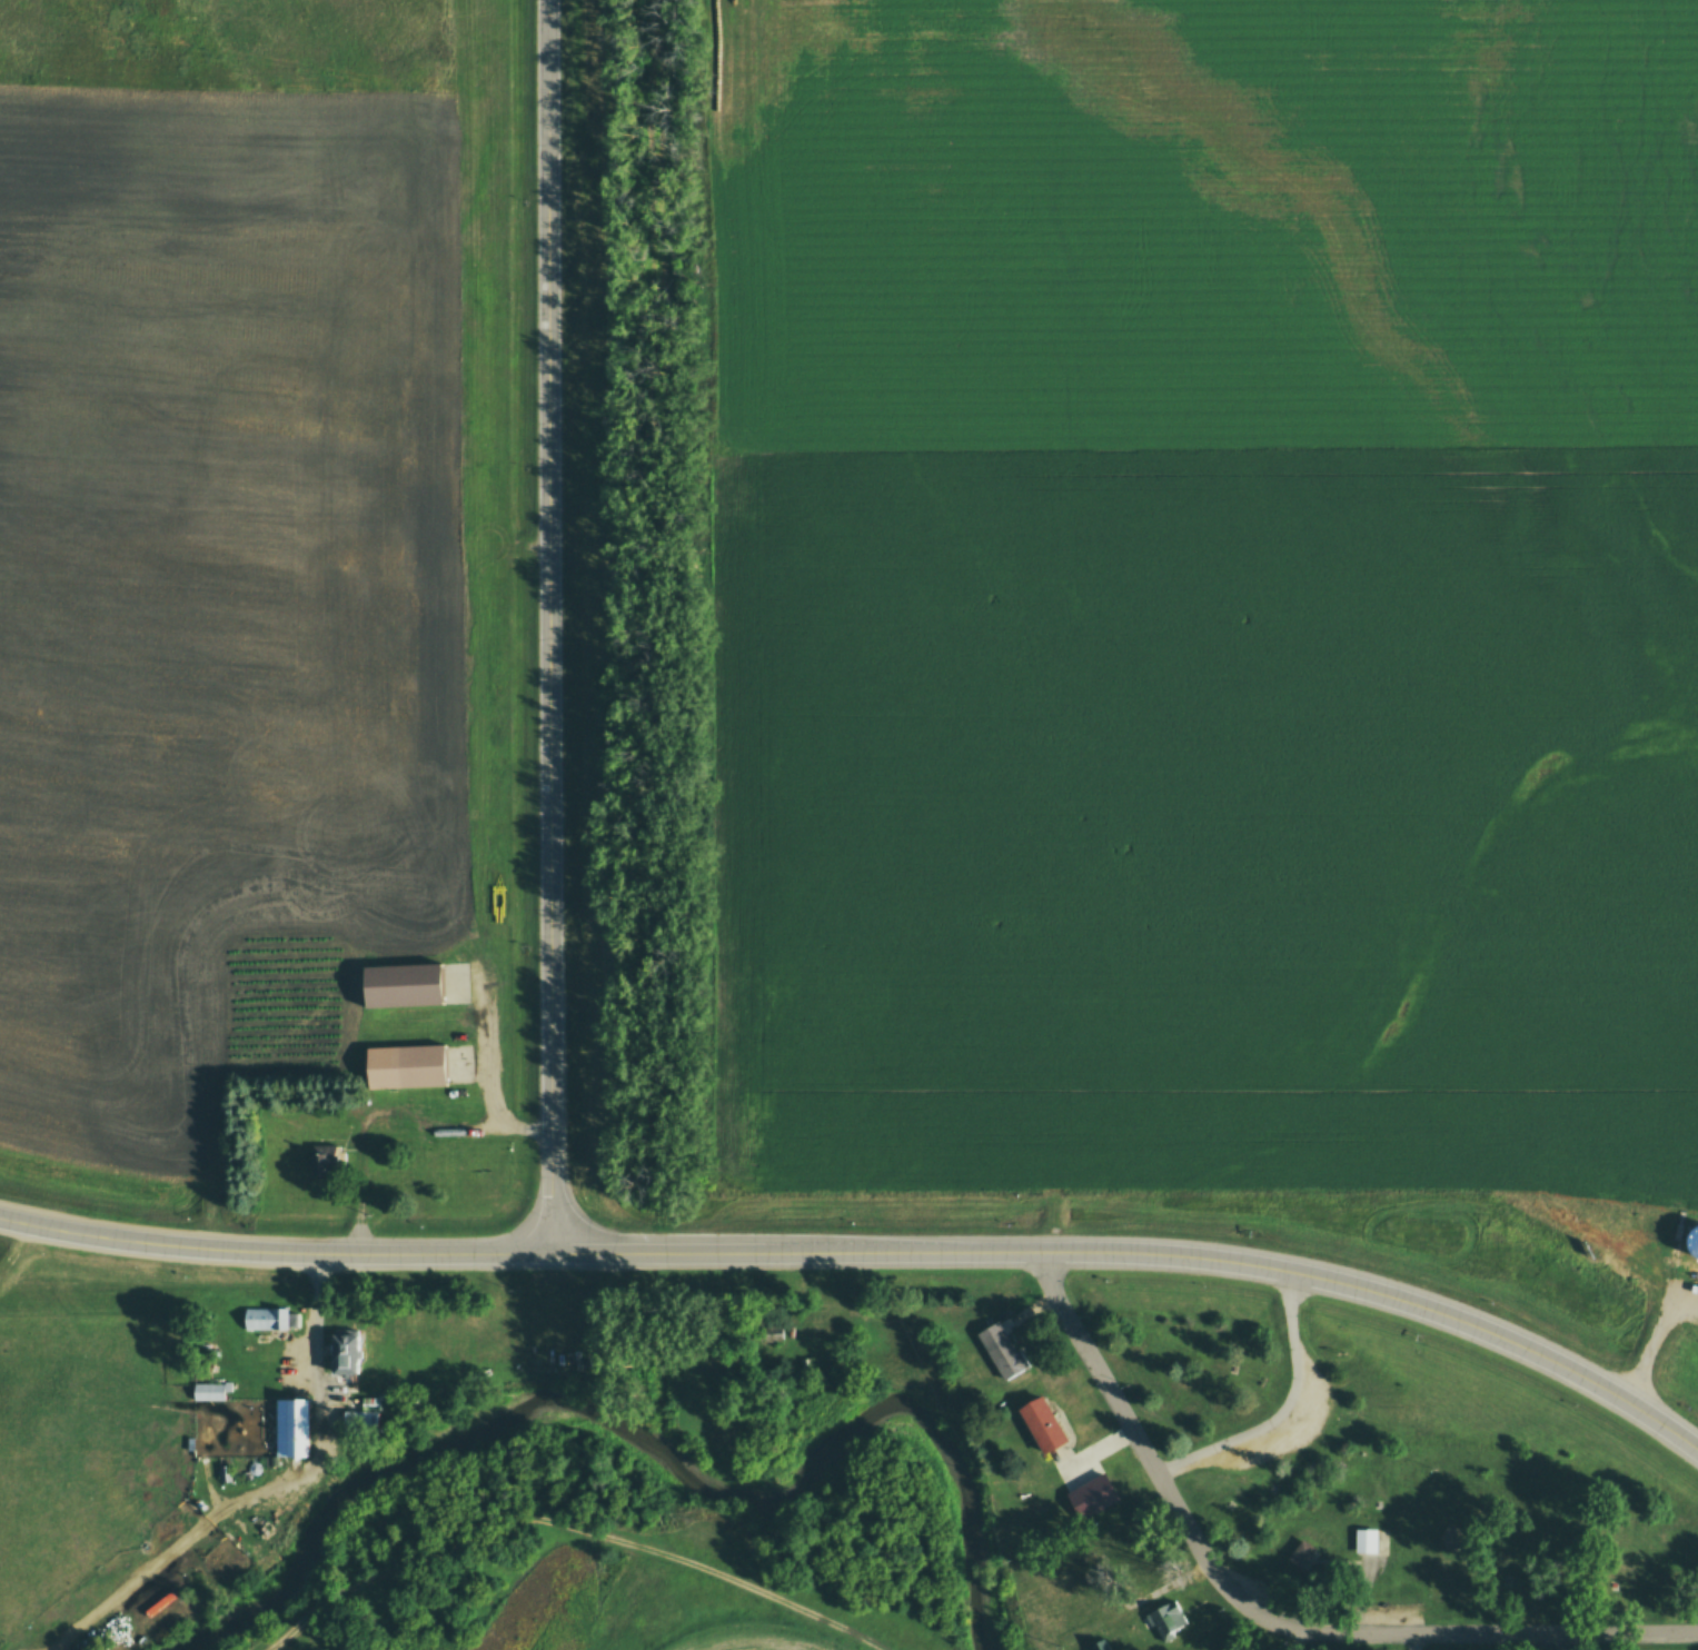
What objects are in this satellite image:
road: (553, 626)
building: (401, 985)
building: (406, 1066)
building: (319, 1161)
building: (1694, 1240)
silo: (1694, 1240)
road: (276, 1252)
road: (1146, 1253)
park: (11, 1258)
building: (268, 1319)
building: (1002, 1350)
building: (345, 1351)
building: (575, 1360)
building: (209, 1391)
river: (901, 1409)
road: (1284, 1410)
building: (360, 1415)
building: (1044, 1423)
building: (291, 1427)
river: (411, 1457)
building: (1094, 1495)
building: (1450, 1540)
building: (1367, 1542)
road: (429, 1550)
road: (748, 1587)
crop: (543, 1602)
park: (692, 1613)
road: (1264, 1616)
building: (1166, 1619)
building: (1100, 1644)
track: (766, 1648)

